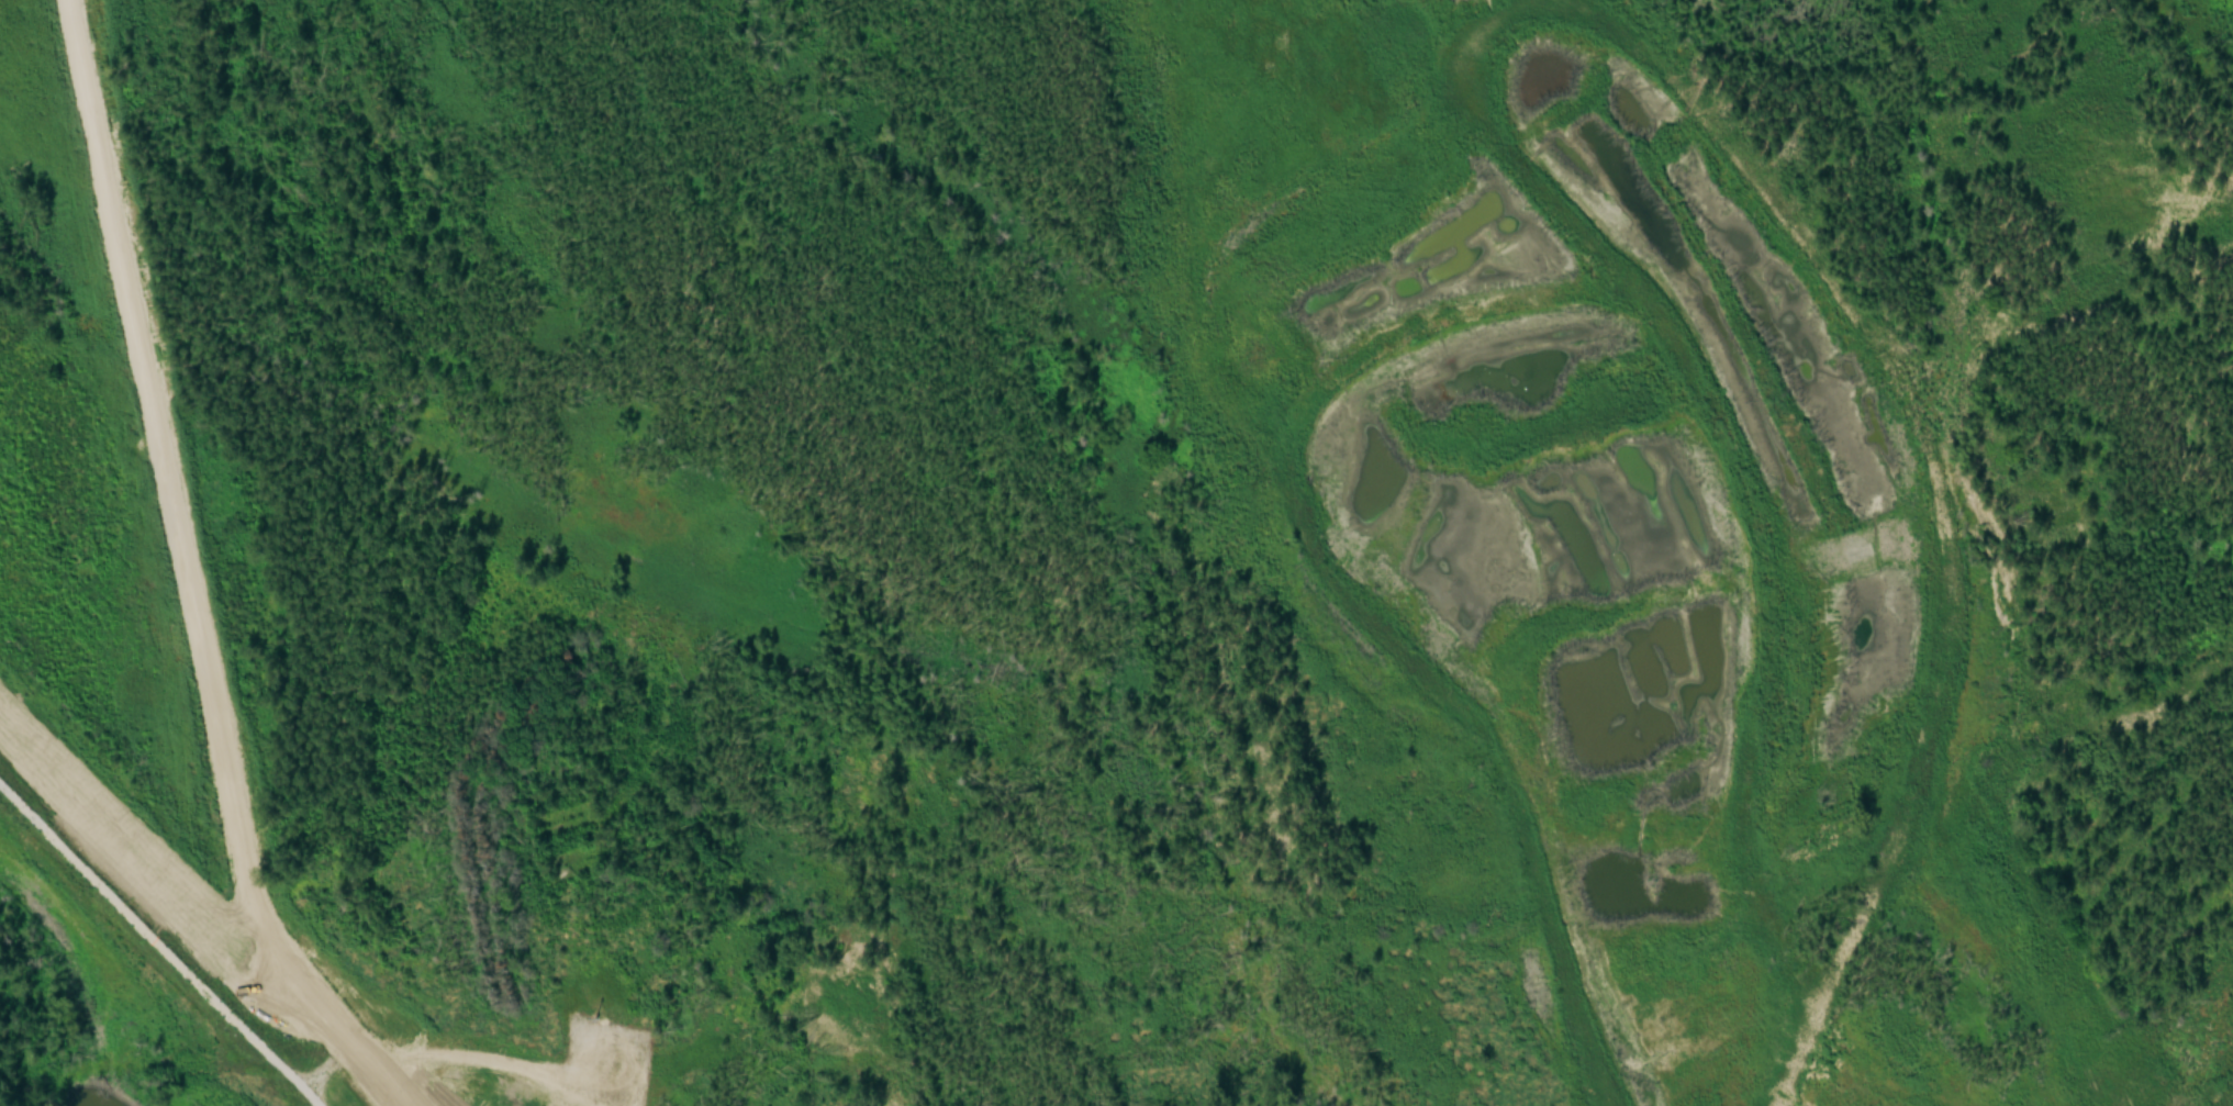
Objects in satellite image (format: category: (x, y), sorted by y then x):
road: (123, 369)
building: (648, 1062)

